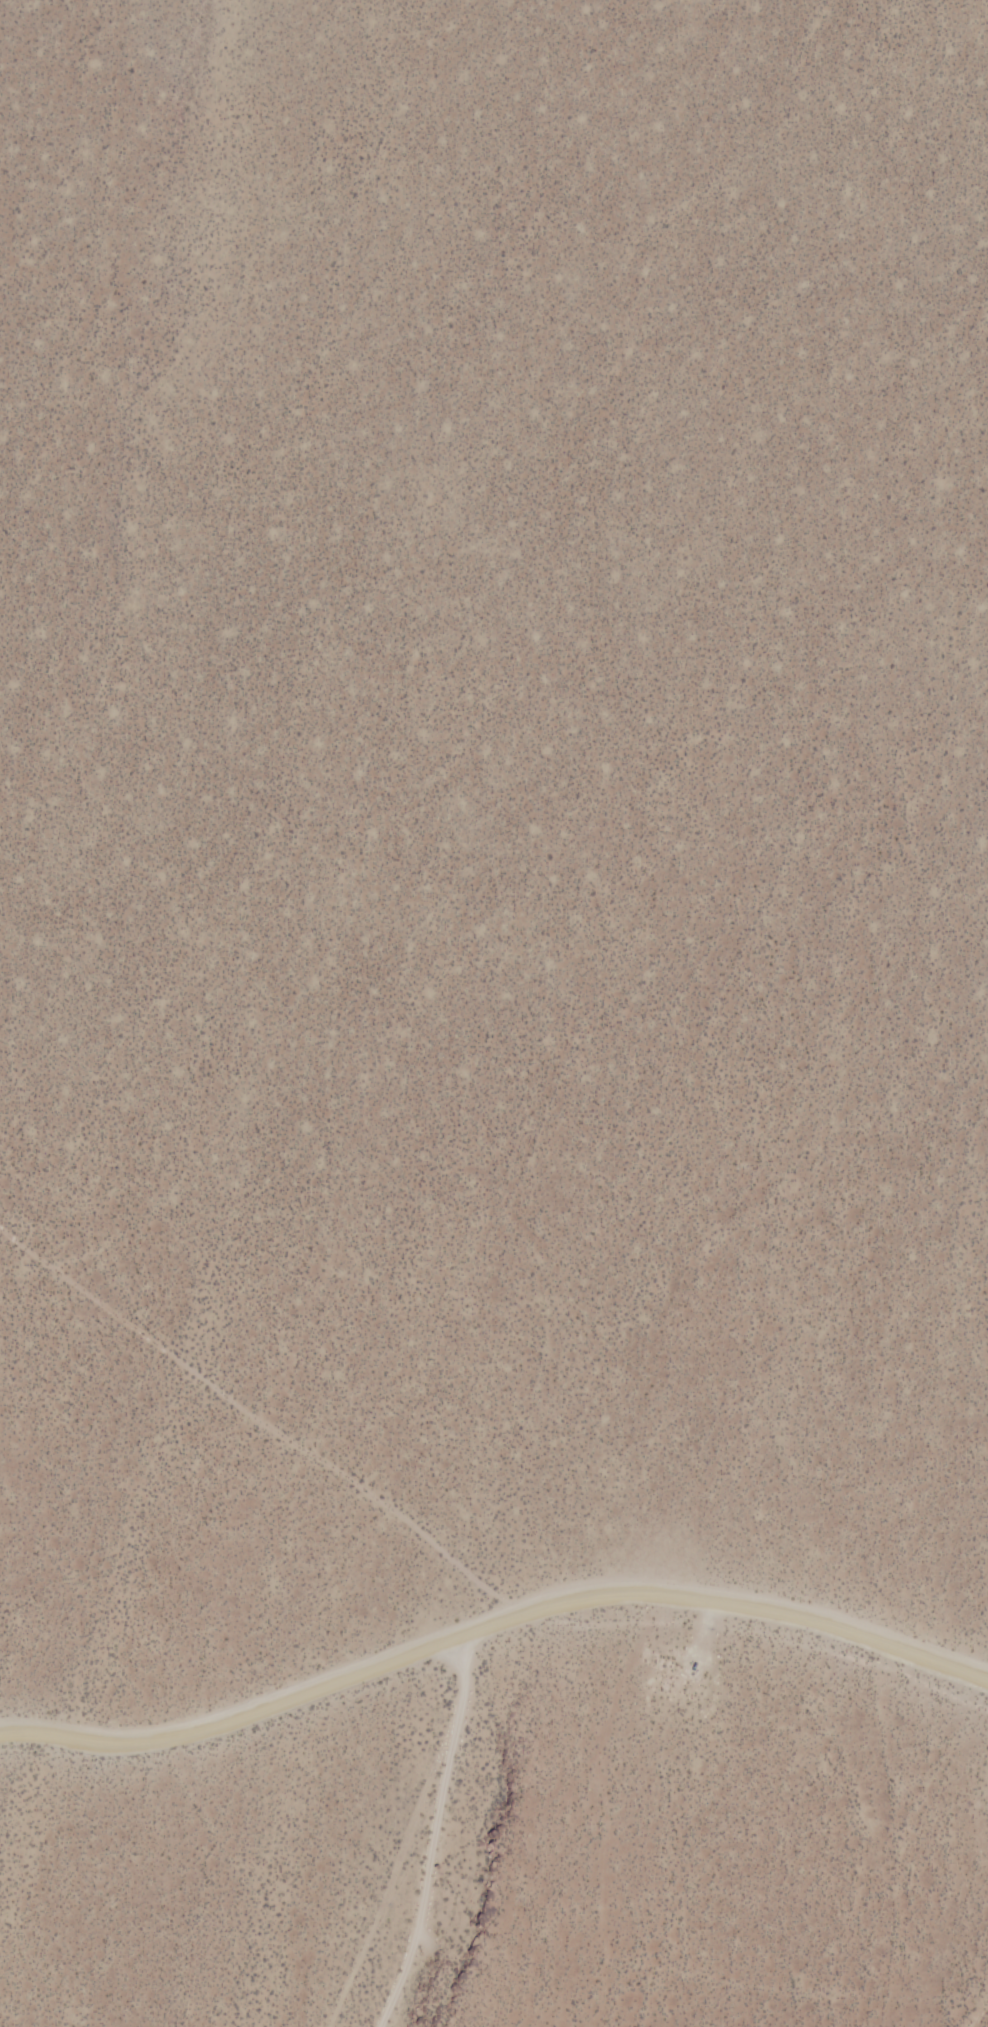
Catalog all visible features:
road: (263, 1420)
road: (493, 1624)
road: (430, 1827)
road: (392, 1865)

